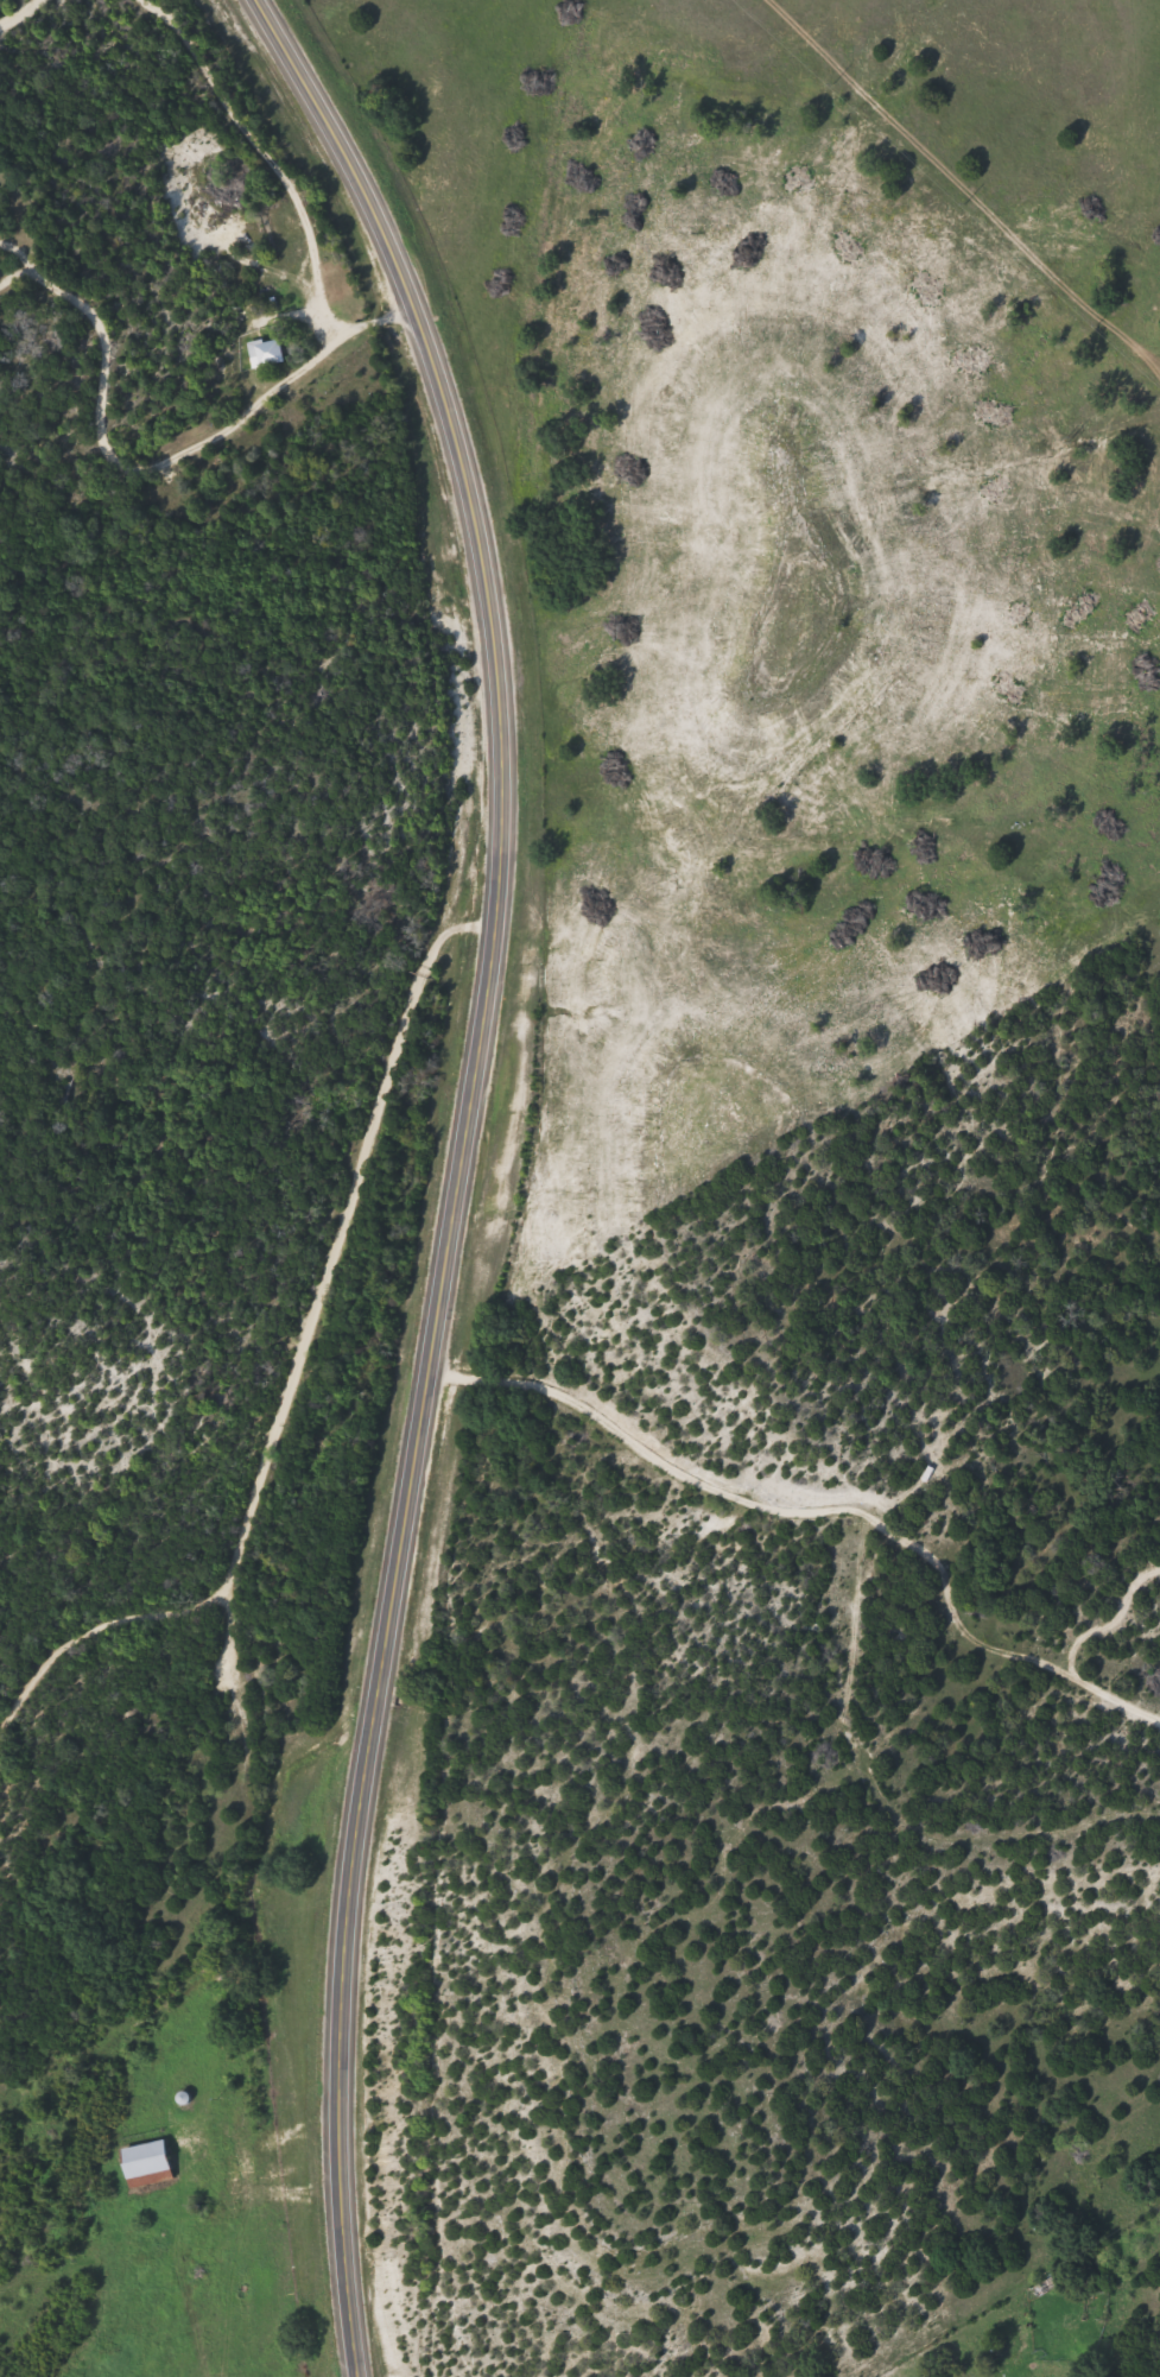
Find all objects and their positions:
building: (261, 350)
road: (259, 786)
road: (461, 1165)
road: (177, 1650)
building: (141, 2163)
road: (133, 2268)

